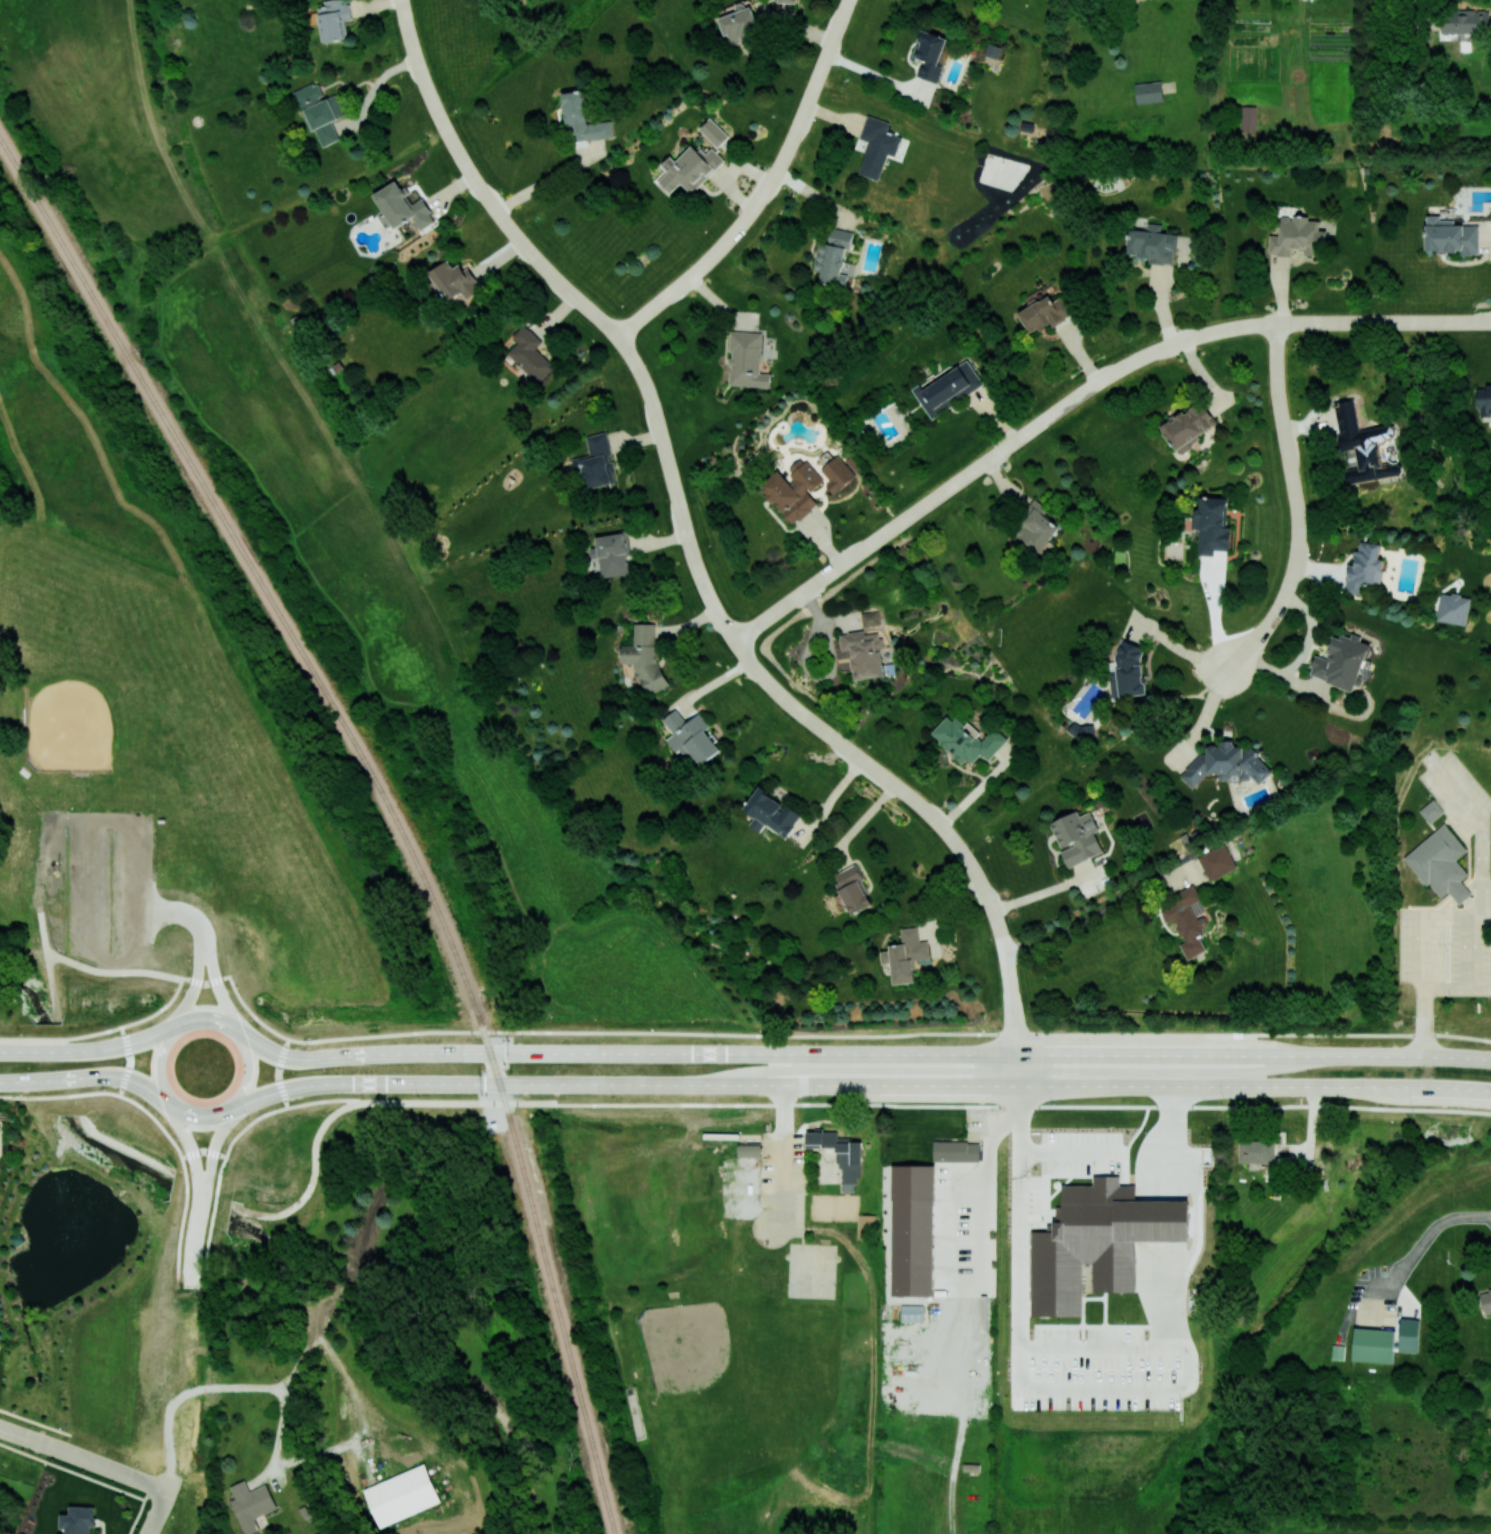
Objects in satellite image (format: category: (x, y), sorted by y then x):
building: (786, 1)
building: (334, 19)
building: (1465, 21)
building: (739, 24)
building: (992, 50)
building: (929, 55)
road: (419, 67)
road: (878, 76)
road: (375, 84)
building: (1149, 92)
building: (319, 111)
building: (1248, 117)
building: (582, 119)
building: (713, 132)
road: (450, 140)
building: (876, 146)
building: (688, 169)
road: (549, 181)
road: (767, 190)
building: (403, 207)
building: (1296, 236)
building: (1450, 236)
building: (1151, 243)
road: (534, 256)
building: (454, 280)
building: (1044, 313)
building: (530, 353)
building: (747, 360)
building: (948, 387)
road: (1081, 392)
building: (1484, 401)
road: (656, 419)
building: (1188, 425)
building: (1364, 445)
building: (596, 462)
building: (835, 471)
building: (792, 489)
road: (1298, 506)
building: (1211, 525)
building: (1037, 527)
park: (345, 530)
building: (611, 554)
building: (1364, 567)
railway: (268, 592)
building: (1453, 608)
building: (870, 618)
road: (1179, 648)
building: (863, 652)
road: (1303, 656)
building: (645, 658)
building: (1343, 662)
building: (1127, 670)
park: (122, 671)
road: (1206, 716)
road: (822, 729)
building: (1081, 730)
park: (161, 733)
building: (691, 736)
building: (966, 740)
building: (1226, 764)
building: (1430, 811)
building: (770, 812)
building: (1076, 836)
building: (1216, 862)
building: (1440, 863)
road: (131, 869)
road: (60, 883)
parking lot: (99, 883)
road: (88, 889)
building: (853, 890)
road: (1044, 892)
road: (179, 912)
road: (1093, 918)
building: (1186, 919)
building: (906, 955)
road: (110, 961)
road: (49, 966)
road: (114, 973)
road: (1010, 981)
road: (197, 987)
road: (1447, 987)
road: (223, 991)
road: (1424, 1021)
street lamp: (1119, 1031)
road: (236, 1032)
road: (618, 1032)
road: (62, 1039)
road: (1015, 1045)
road: (91, 1050)
road: (864, 1053)
road: (283, 1064)
road: (1017, 1076)
road: (98, 1077)
road: (7, 1082)
road: (862, 1085)
road: (62, 1096)
street lamp: (1224, 1098)
road: (287, 1099)
street lamp: (1053, 1102)
road: (177, 1104)
road: (361, 1104)
road: (1025, 1108)
road: (1173, 1119)
road: (242, 1134)
road: (1312, 1137)
road: (123, 1148)
road: (194, 1148)
road: (1020, 1148)
road: (216, 1149)
building: (749, 1149)
building: (956, 1151)
building: (1256, 1151)
road: (206, 1152)
building: (840, 1153)
road: (783, 1157)
road: (985, 1173)
park: (833, 1207)
building: (866, 1226)
building: (913, 1230)
building: (1097, 1242)
road: (1419, 1247)
park: (84, 1249)
road: (195, 1251)
park: (811, 1256)
park: (810, 1283)
railway: (555, 1300)
building: (1486, 1300)
building: (912, 1312)
building: (1373, 1344)
building: (1337, 1351)
park: (209, 1362)
park: (740, 1389)
road: (191, 1401)
park: (635, 1412)
road: (36, 1422)
road: (26, 1436)
road: (1457, 1448)
road: (110, 1469)
road: (72, 1471)
building: (401, 1495)
building: (250, 1504)
road: (139, 1509)
road: (158, 1511)
building: (78, 1520)

